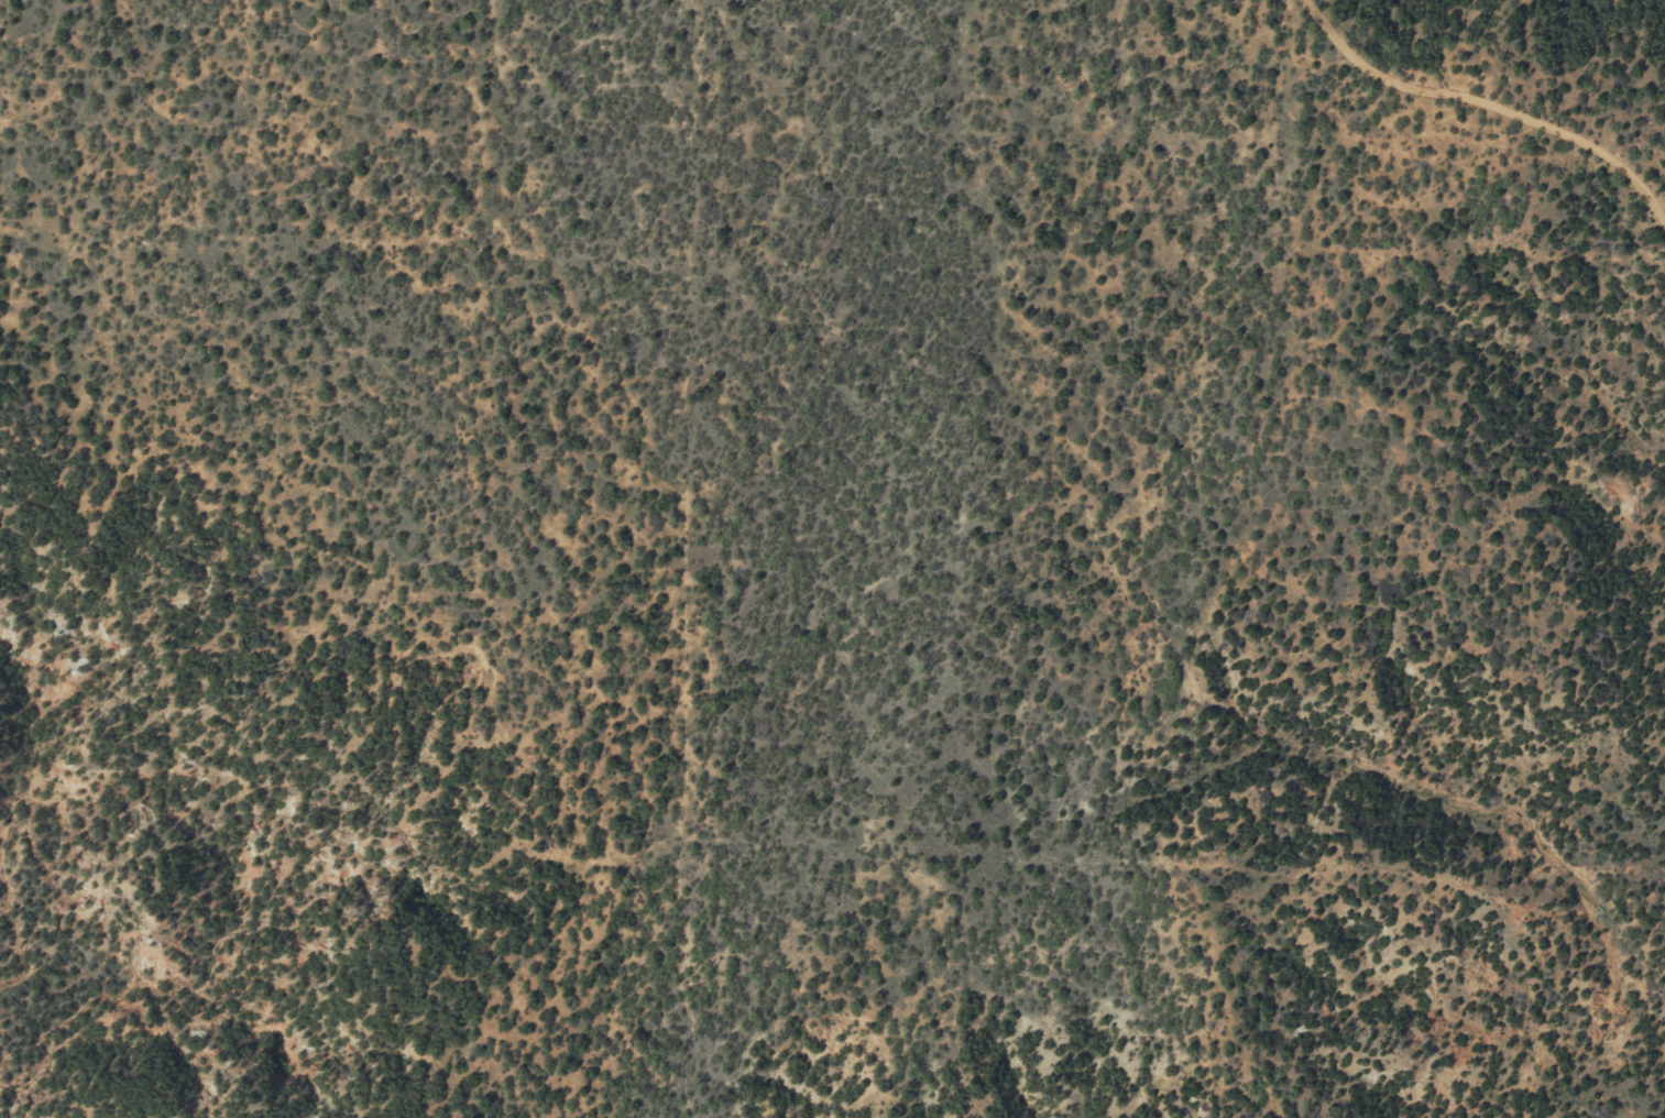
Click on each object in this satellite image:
road: (1498, 117)

